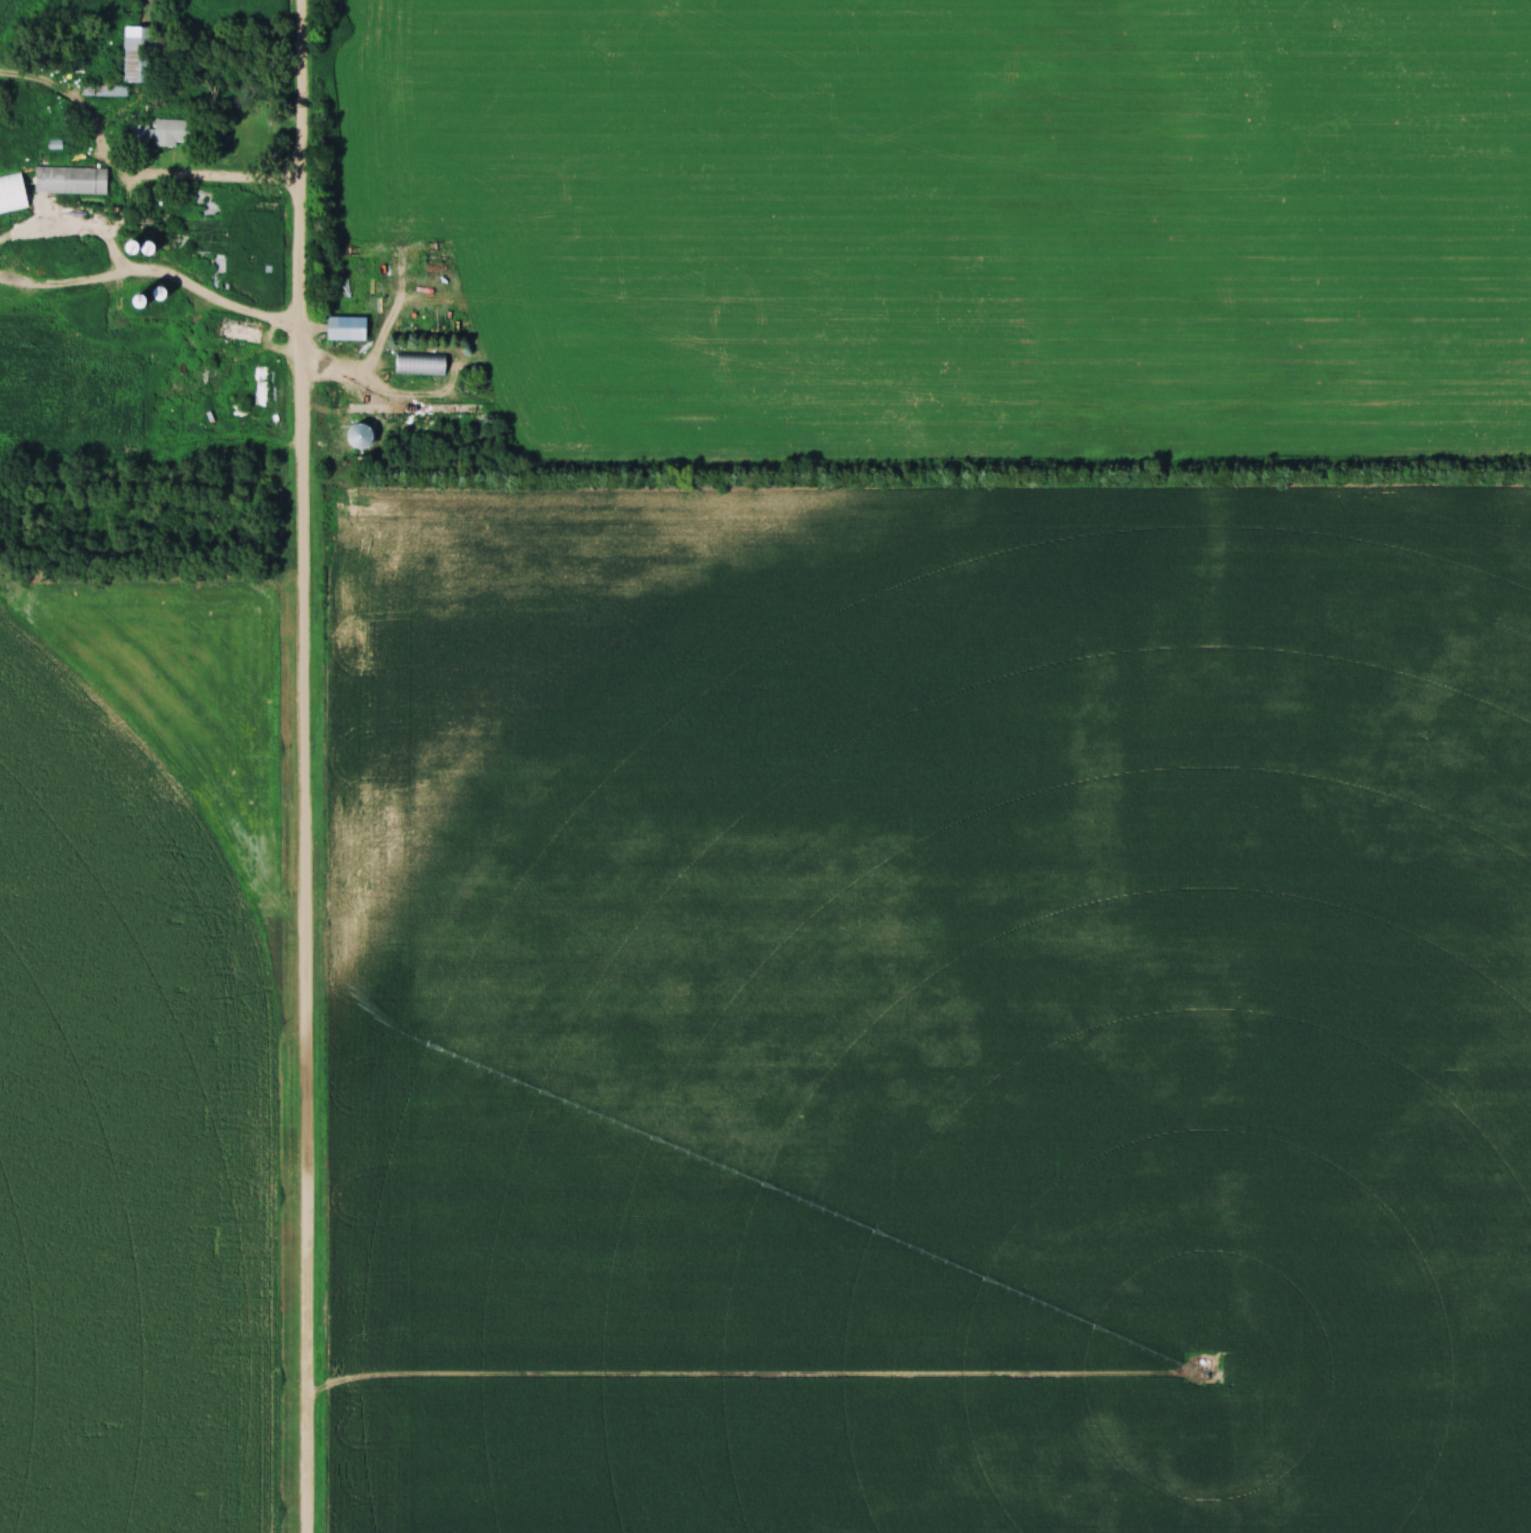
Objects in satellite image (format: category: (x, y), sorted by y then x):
building: (138, 42)
building: (163, 133)
building: (72, 181)
road: (208, 182)
building: (14, 194)
building: (200, 237)
building: (348, 330)
building: (422, 365)
road: (365, 414)
road: (303, 766)

